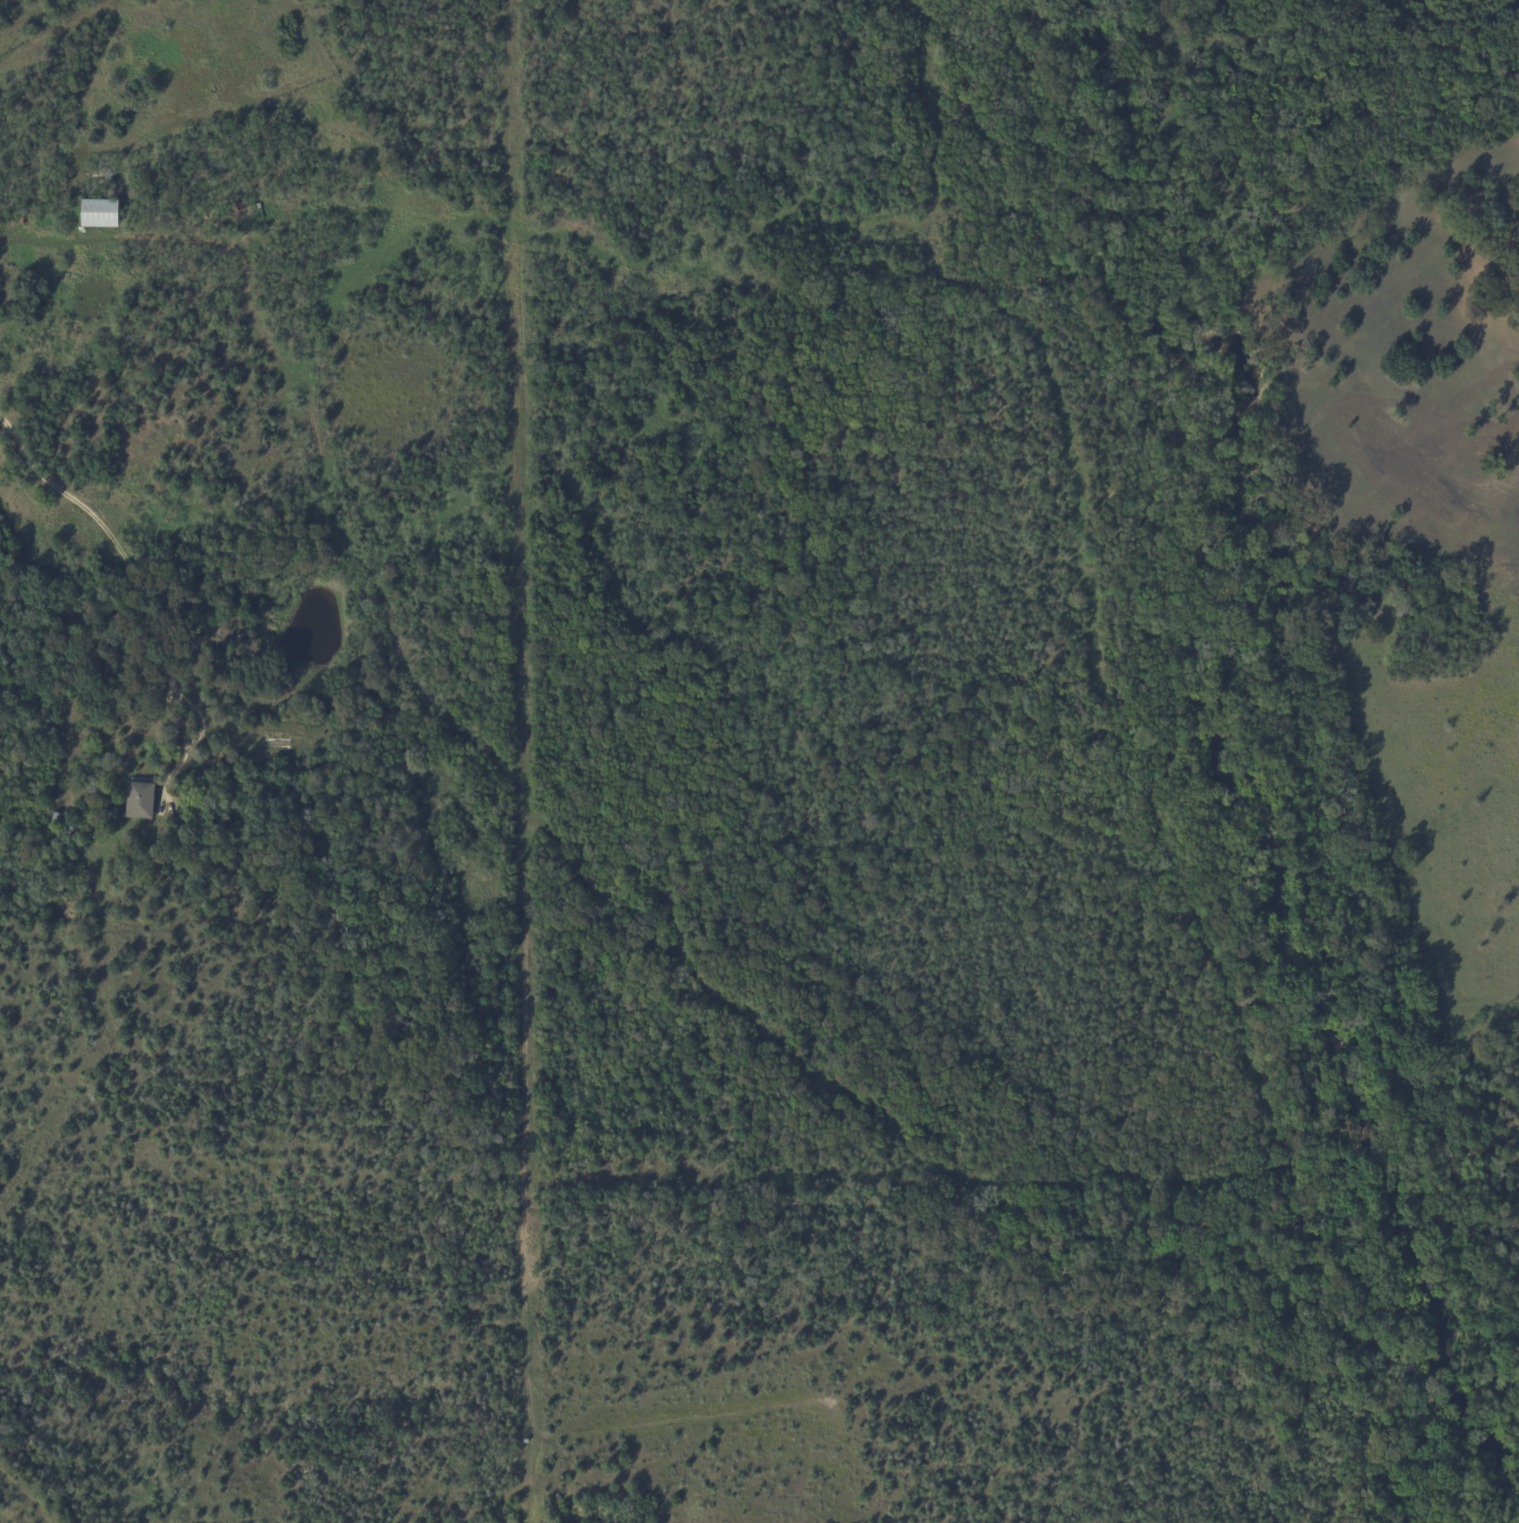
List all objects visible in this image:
building: (101, 213)
road: (121, 552)
building: (141, 800)

